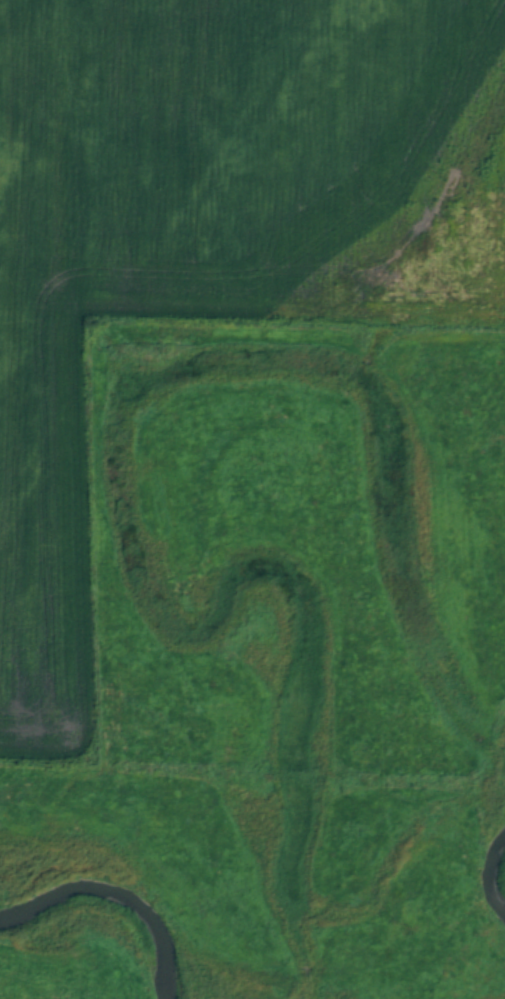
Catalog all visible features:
river: (498, 883)
river: (116, 897)

